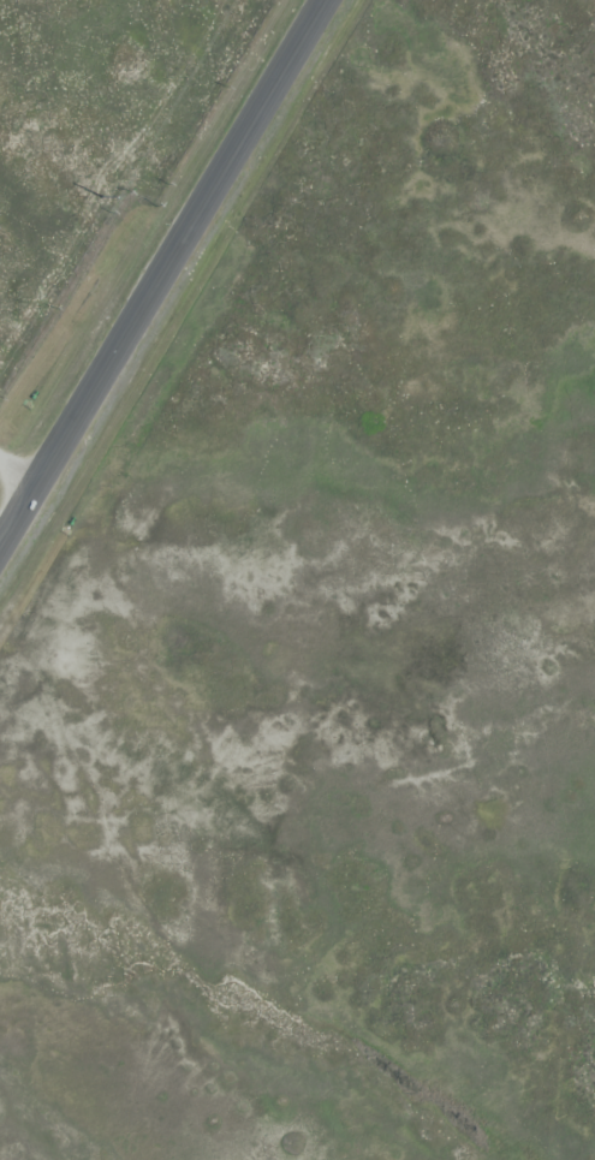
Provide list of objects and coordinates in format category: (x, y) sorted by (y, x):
park: (96, 129)
power tower: (102, 201)
road: (166, 278)
road: (20, 472)
park: (357, 607)

